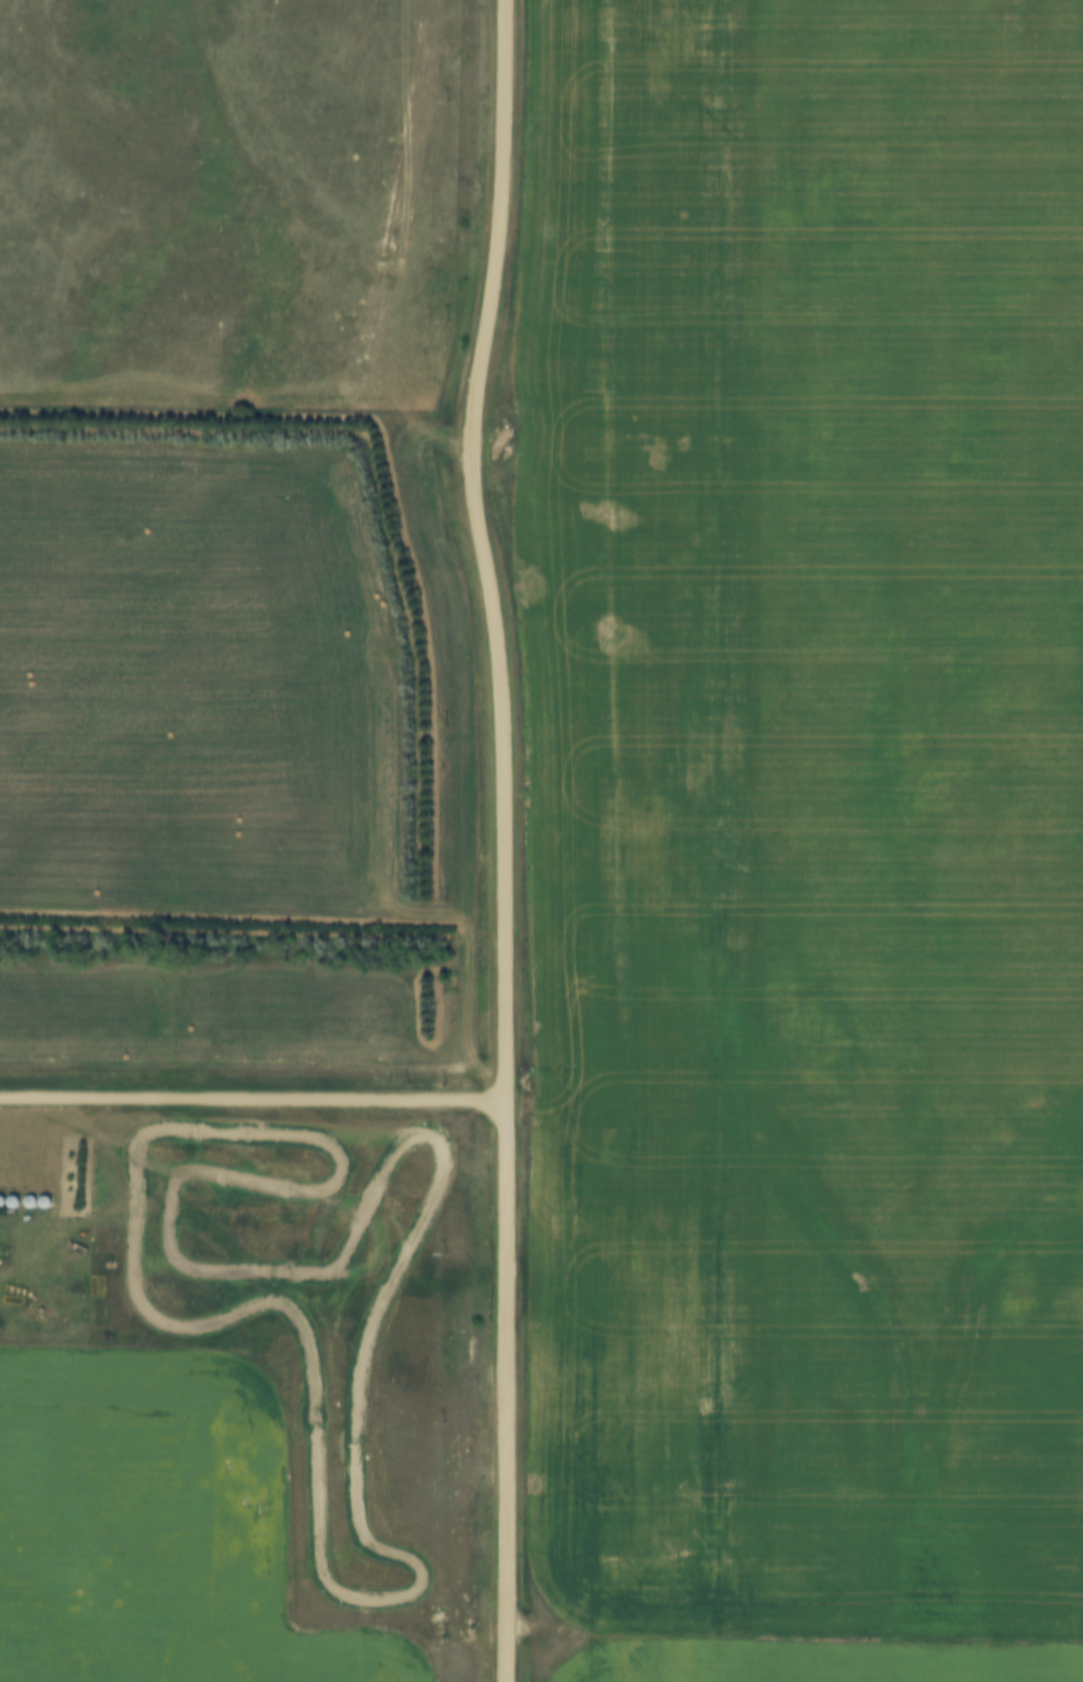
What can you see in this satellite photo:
road: (505, 837)
road: (252, 1102)
raceway: (417, 1567)
road: (794, 1634)

